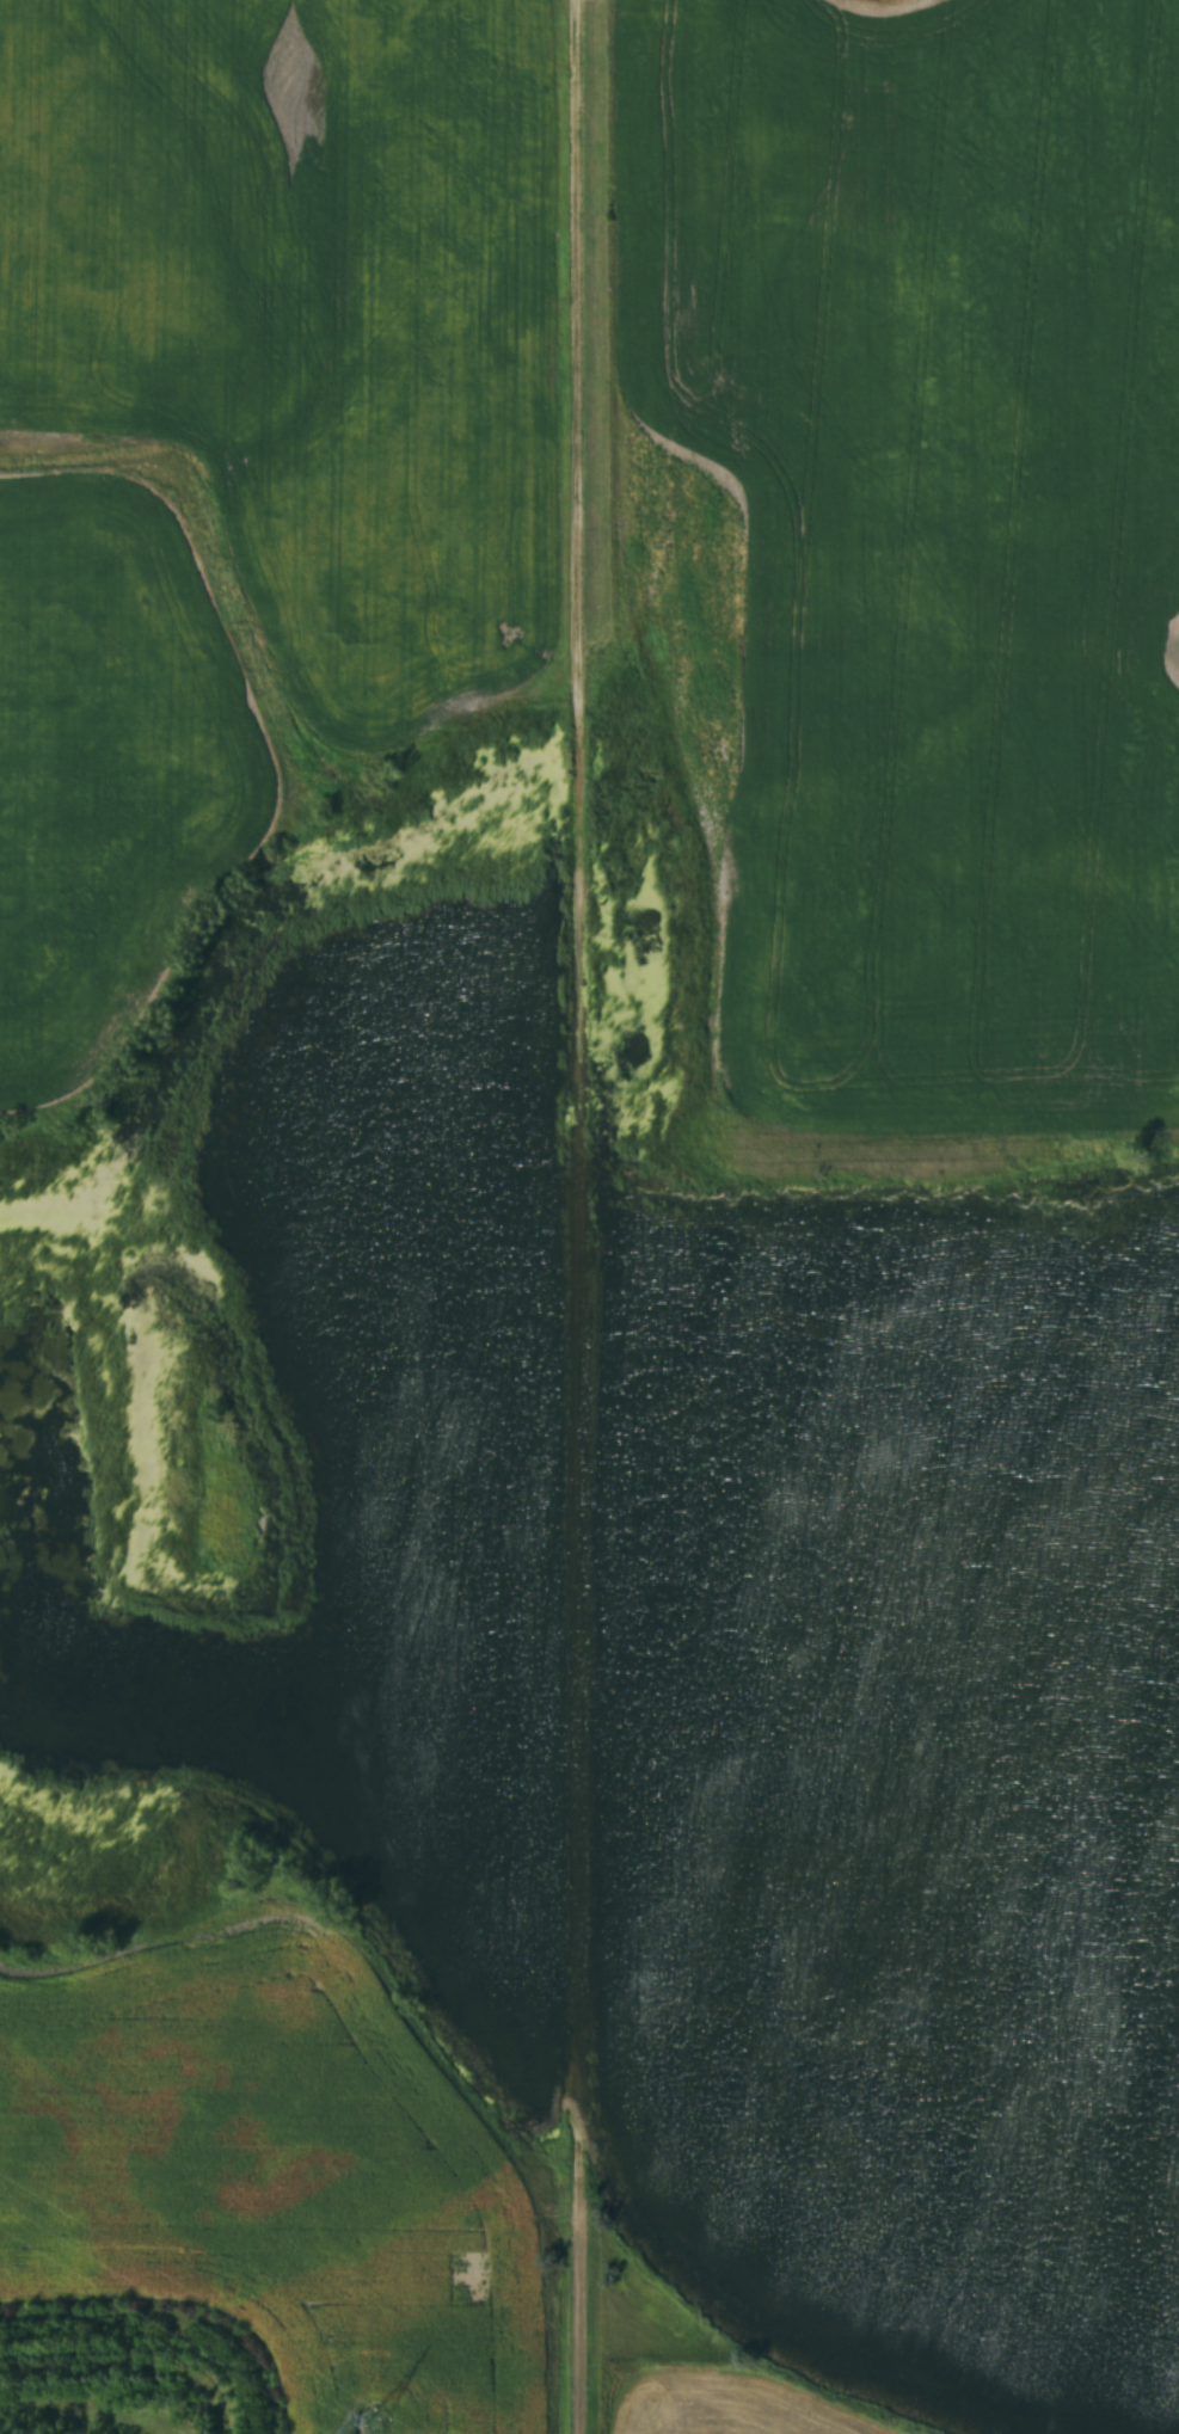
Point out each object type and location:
road: (577, 355)
road: (578, 2150)
power tower: (375, 2421)

